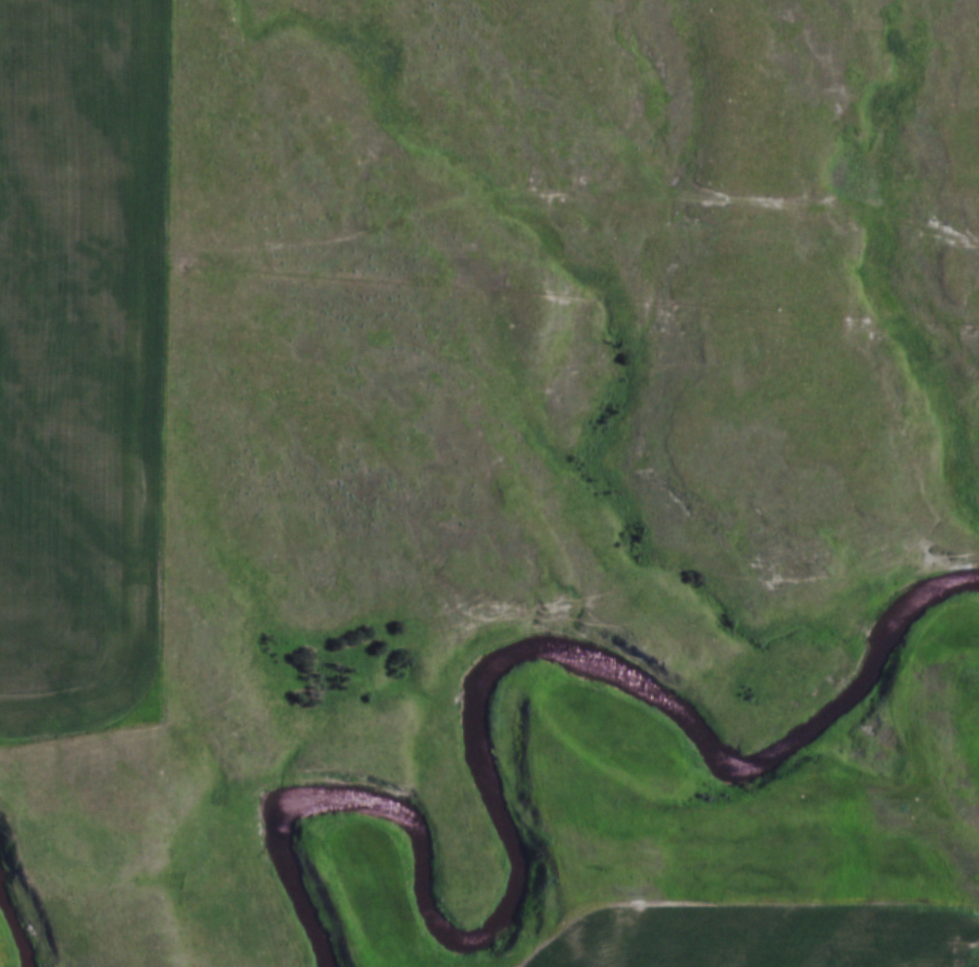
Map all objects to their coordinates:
crop: (76, 360)

